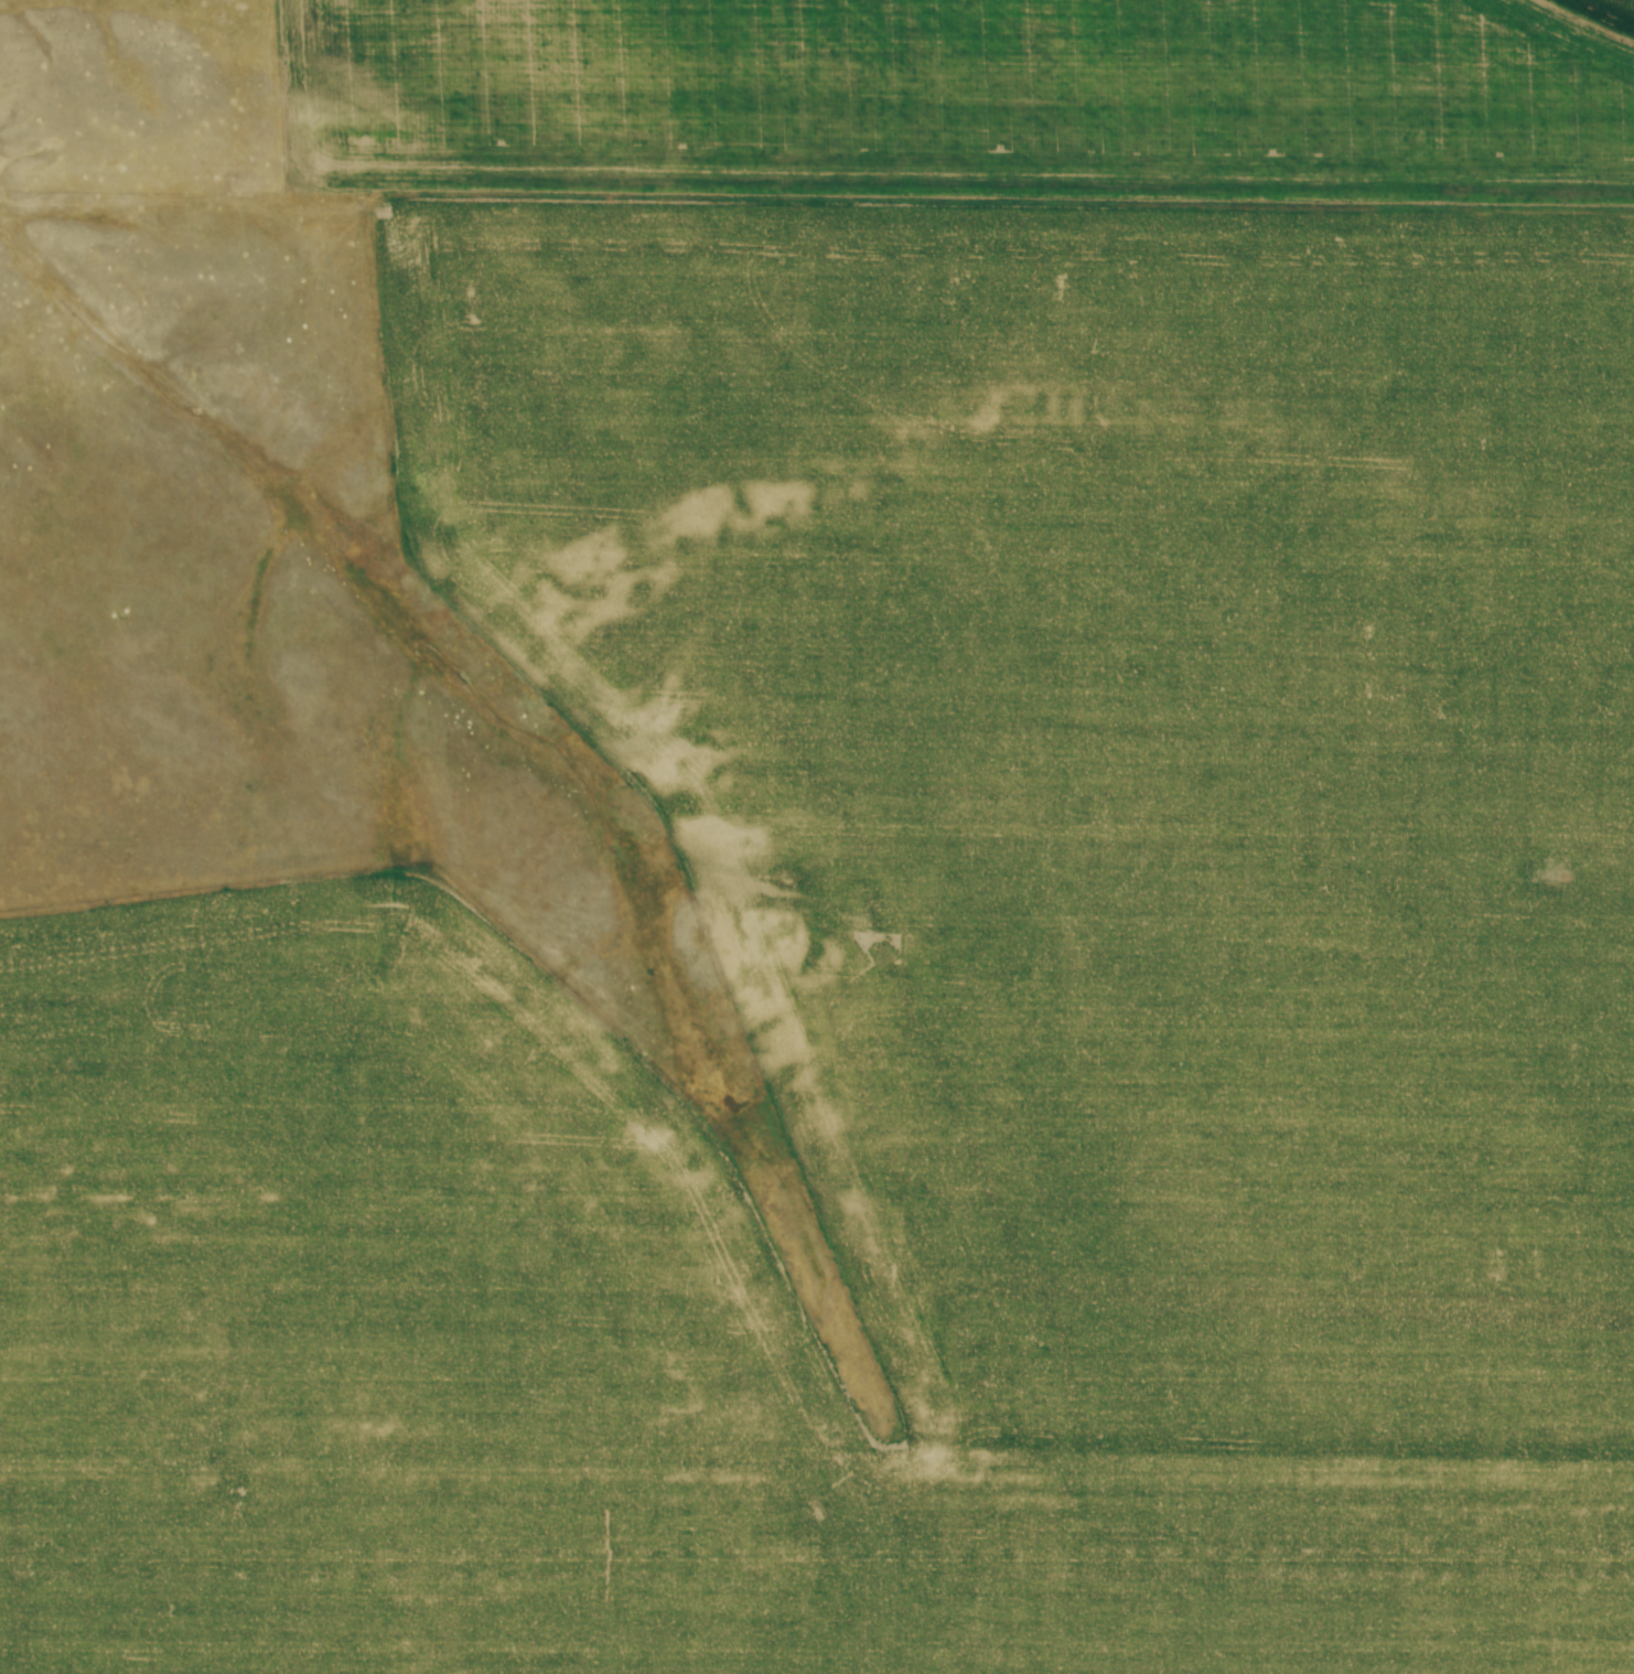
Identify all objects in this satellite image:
crop: (918, 884)

